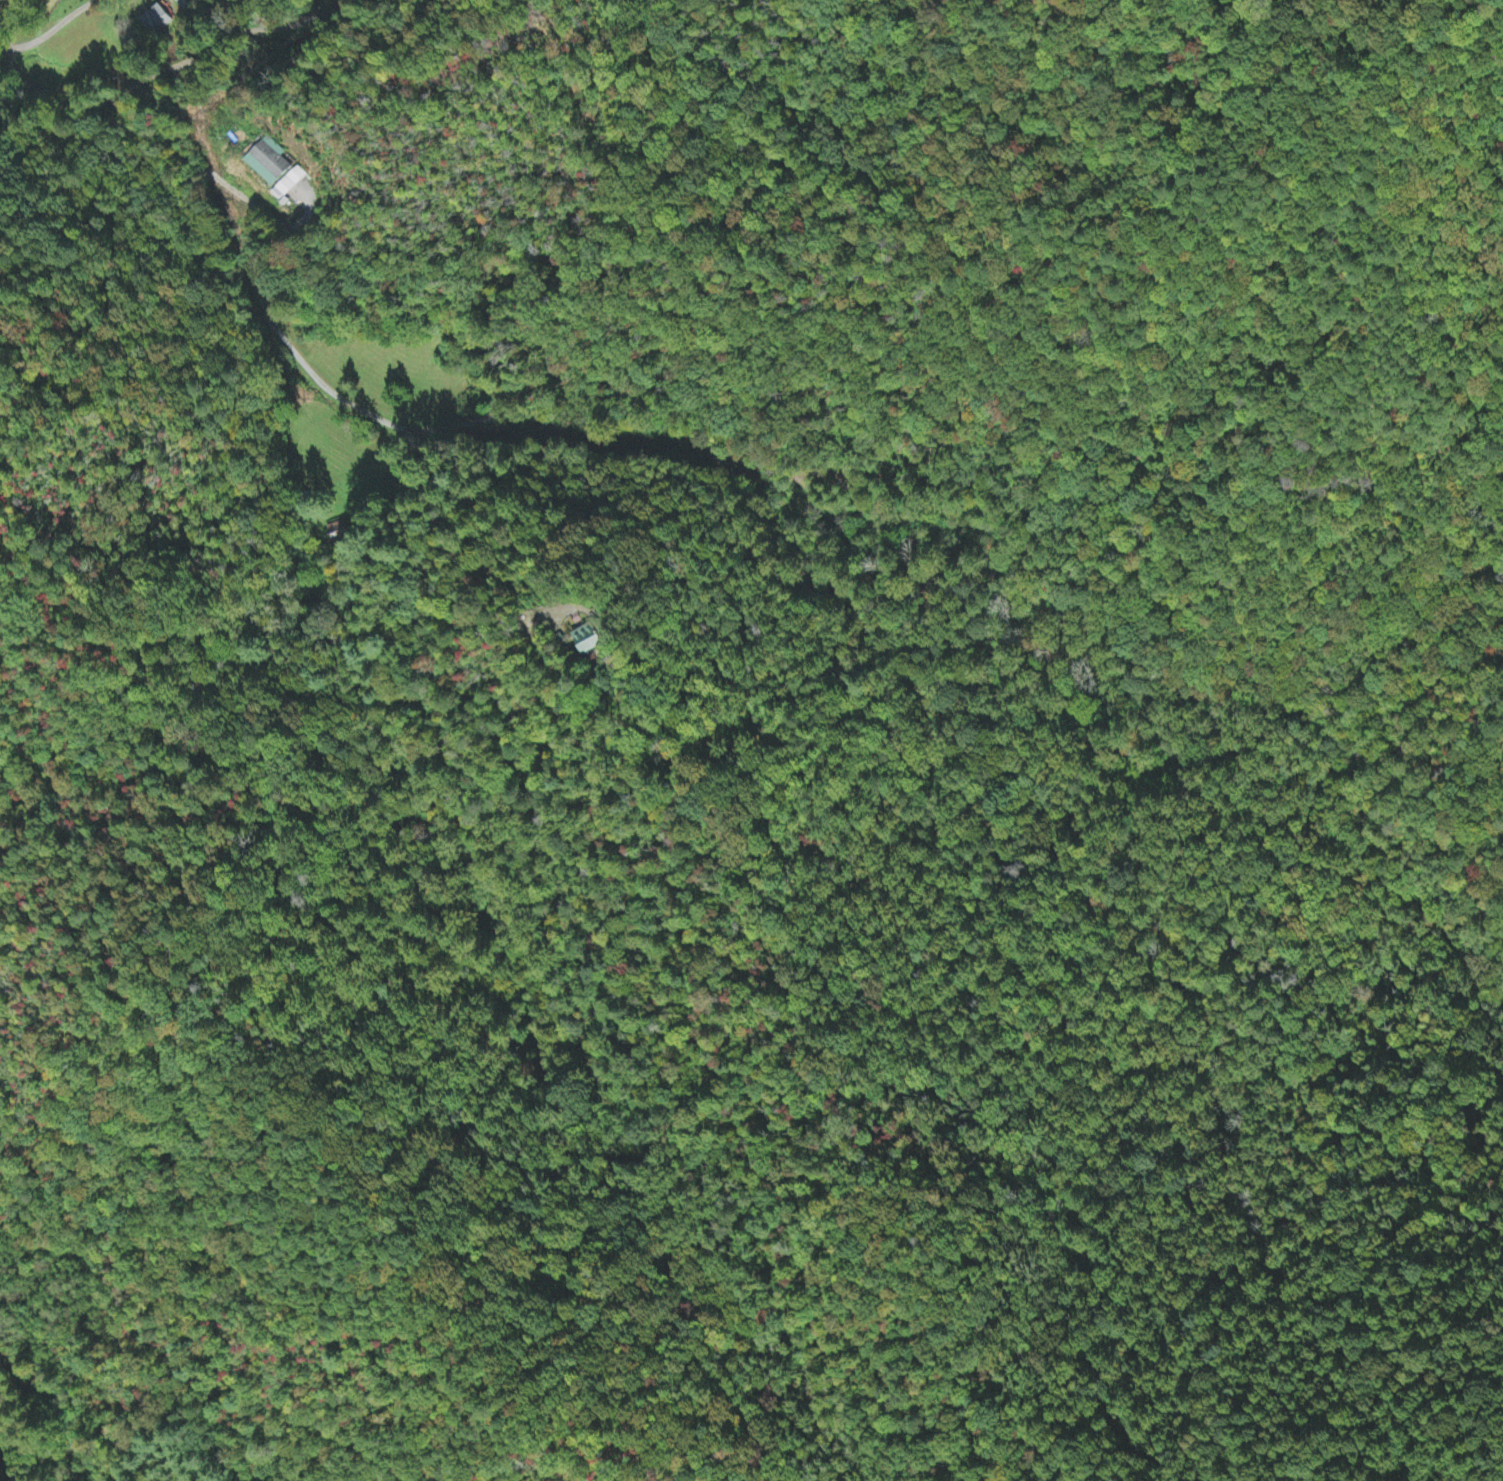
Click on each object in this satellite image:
building: (185, 5)
road: (247, 17)
building: (155, 21)
road: (190, 73)
building: (269, 163)
building: (289, 185)
road: (353, 430)
building: (337, 532)
road: (475, 564)
road: (81, 585)
road: (346, 616)
building: (588, 640)
road: (500, 804)
road: (20, 1381)

